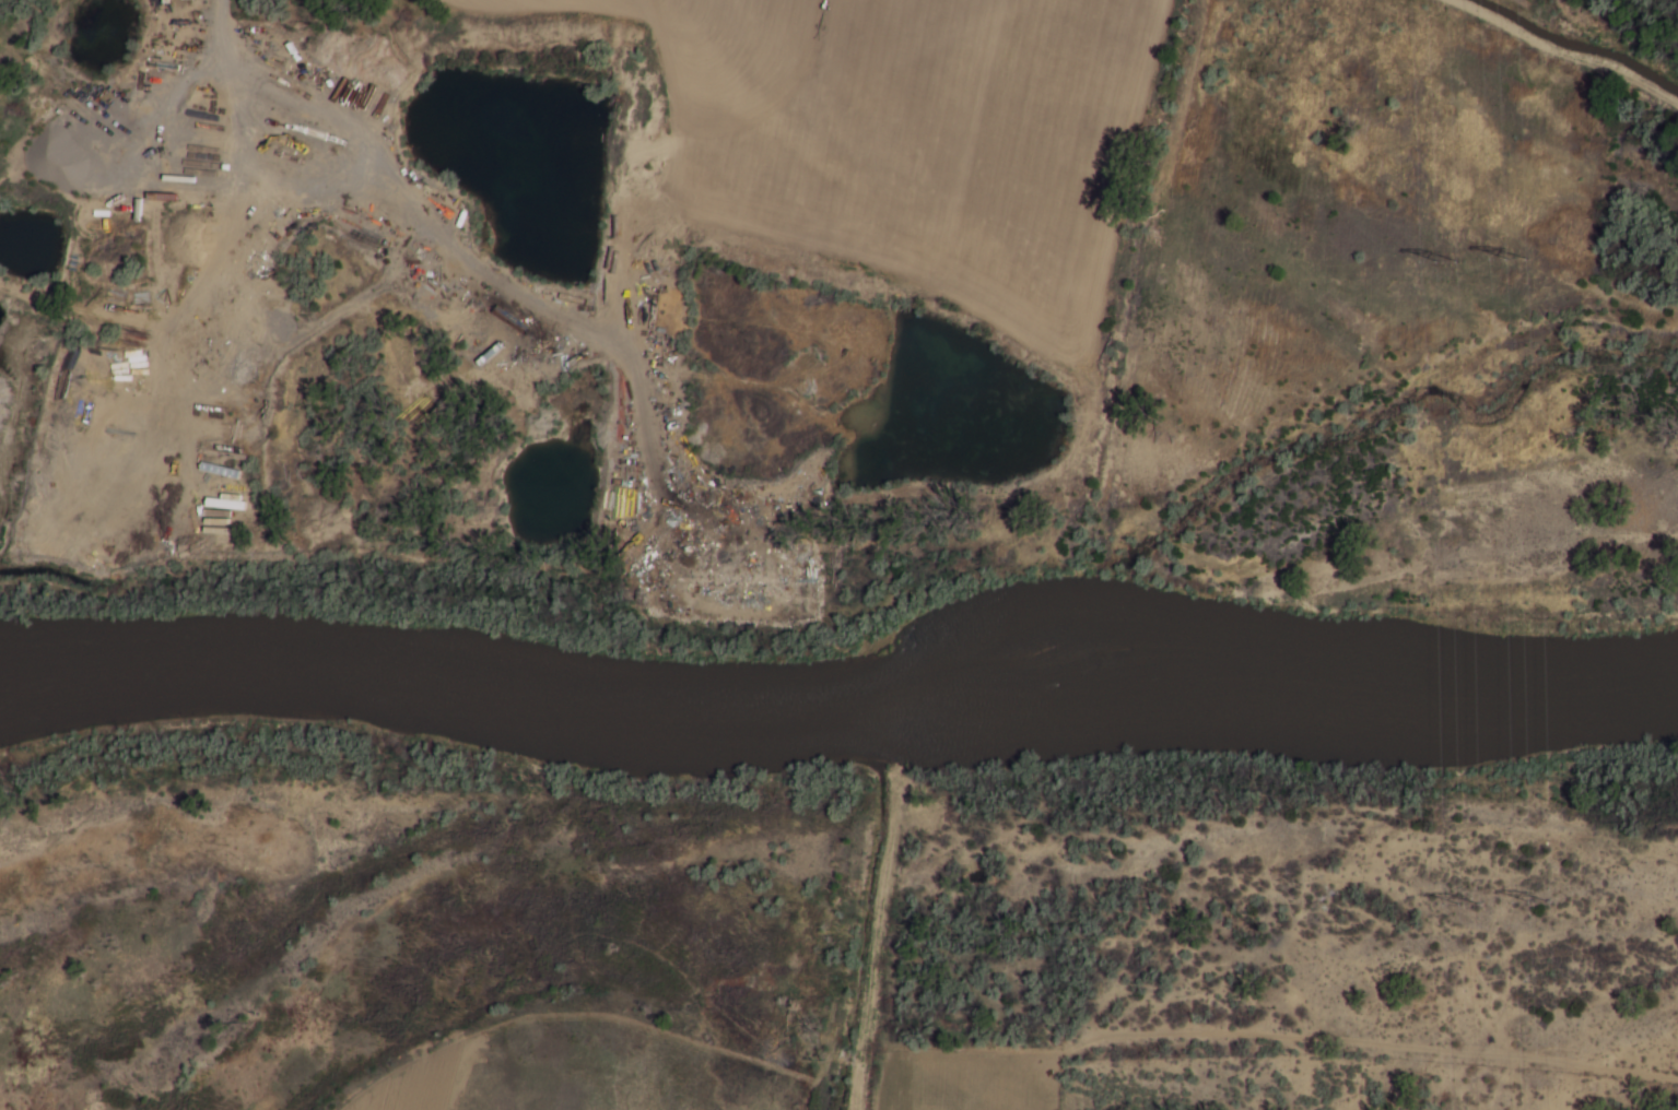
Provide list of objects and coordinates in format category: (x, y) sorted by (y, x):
power tower: (1444, 260)
power tower: (1514, 262)
river: (836, 716)

